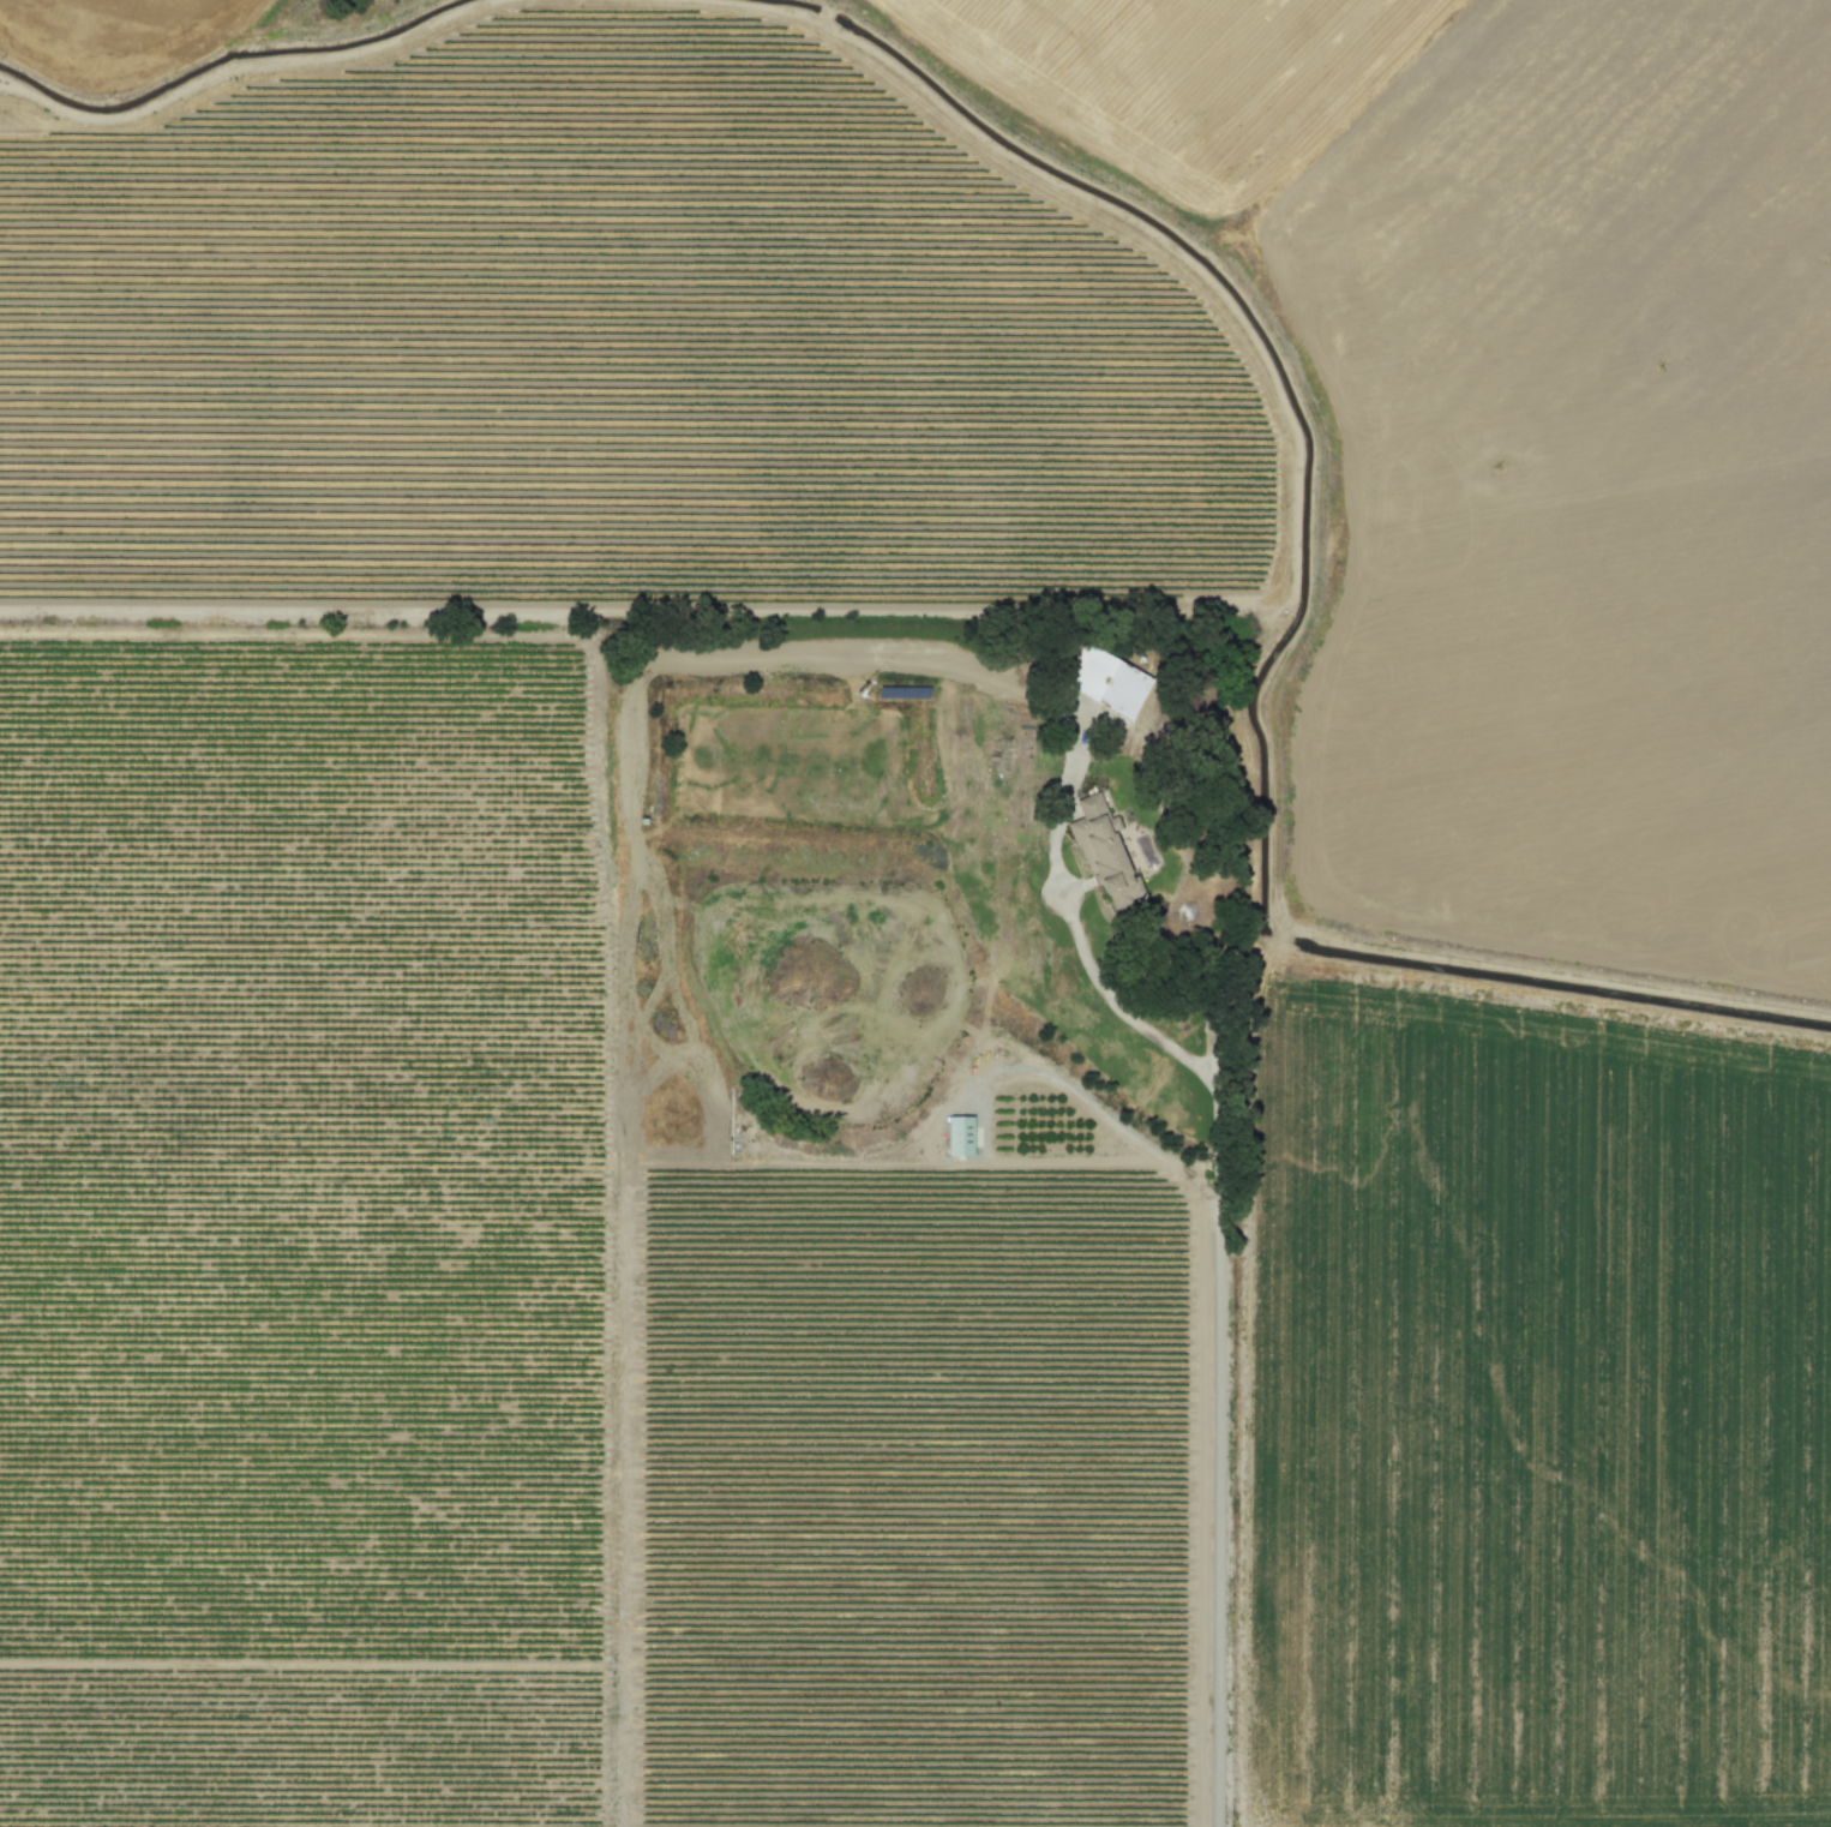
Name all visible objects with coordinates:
building: (1106, 678)
wind turbine: (857, 691)
building: (1104, 853)
road: (1526, 978)
road: (1117, 1005)
road: (1106, 1115)
building: (960, 1134)
road: (1224, 1256)

